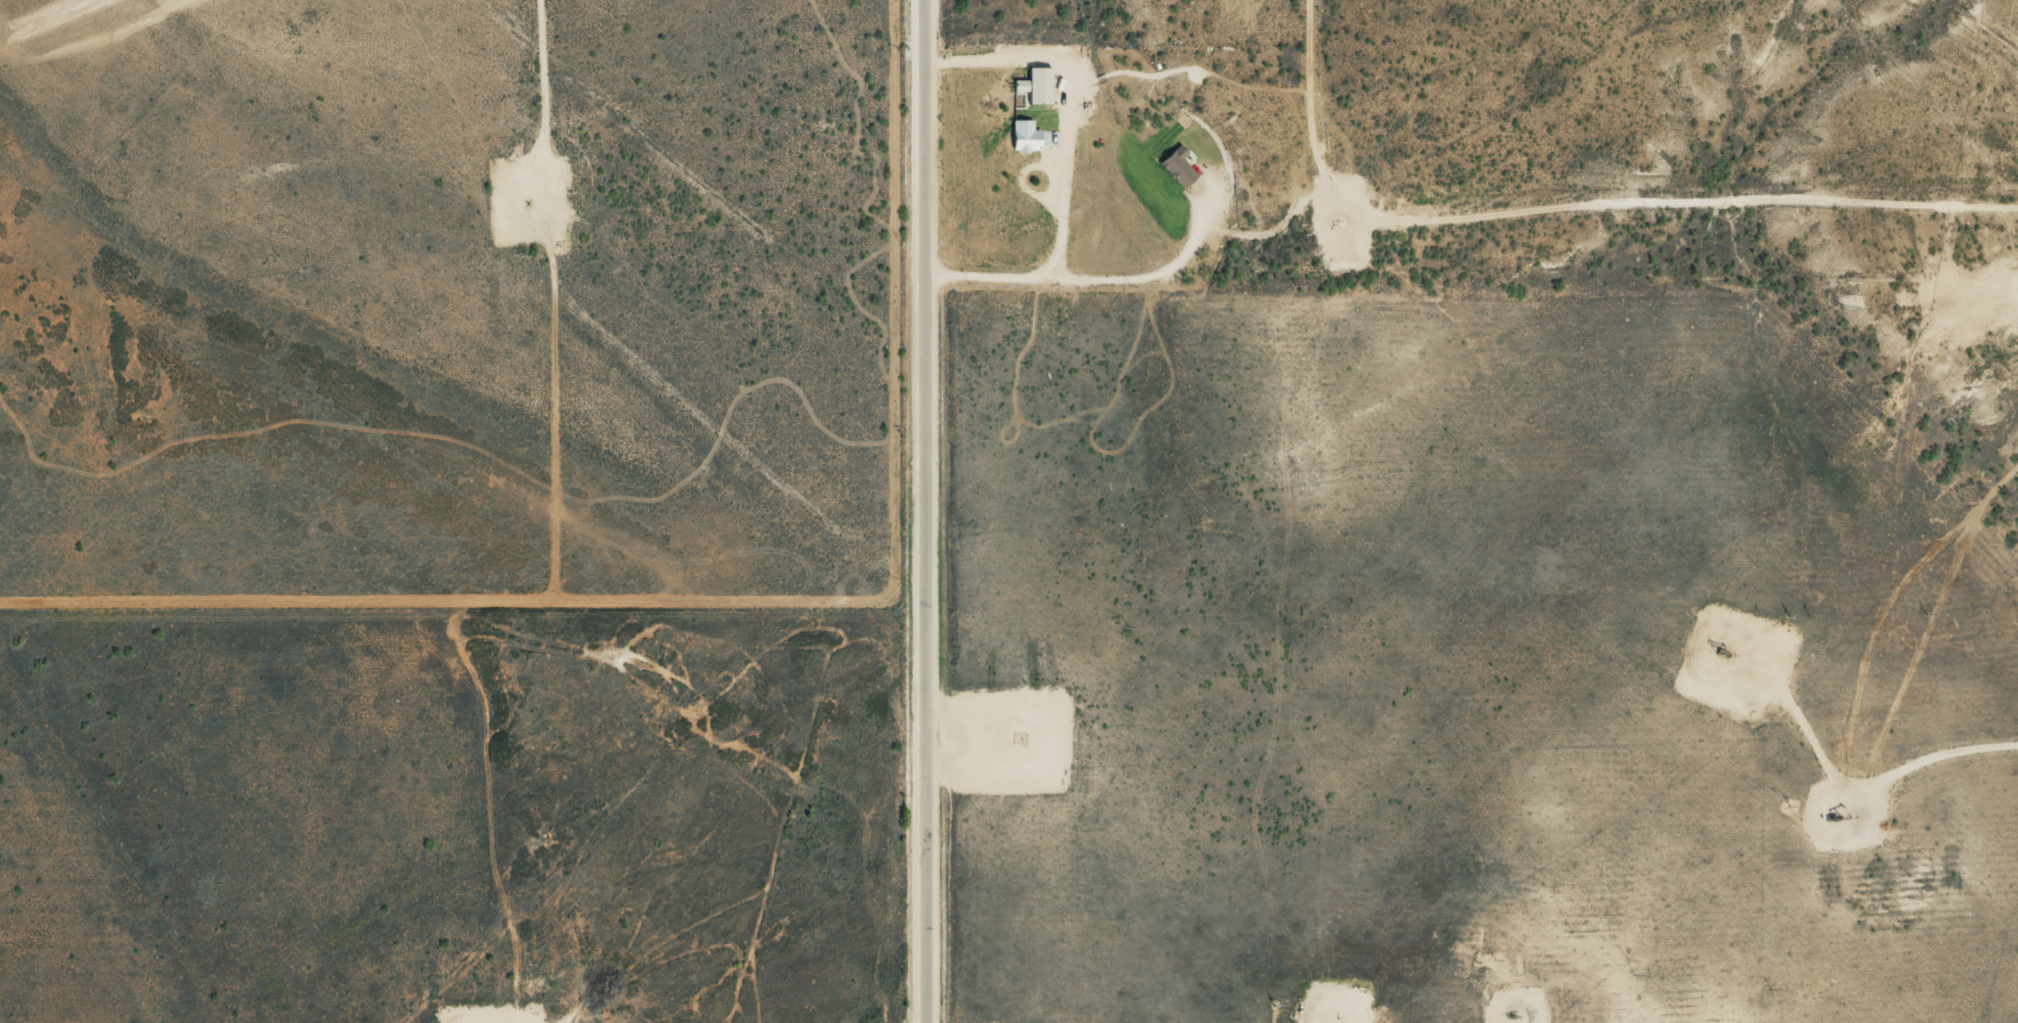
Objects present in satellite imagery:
building: (1035, 85)
road: (1917, 103)
building: (1024, 136)
road: (1493, 137)
building: (1177, 167)
road: (1084, 281)
road: (924, 511)
road: (69, 879)
road: (492, 1010)

